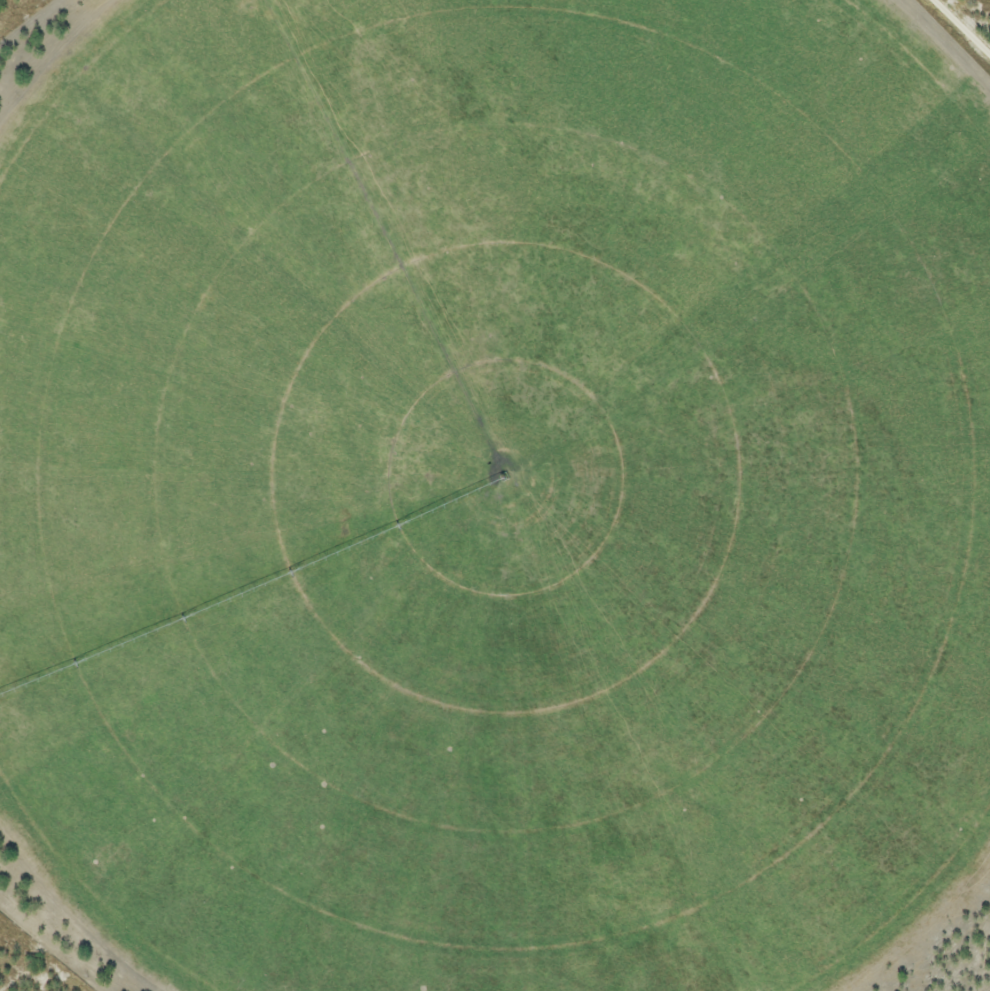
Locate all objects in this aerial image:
road: (956, 31)

